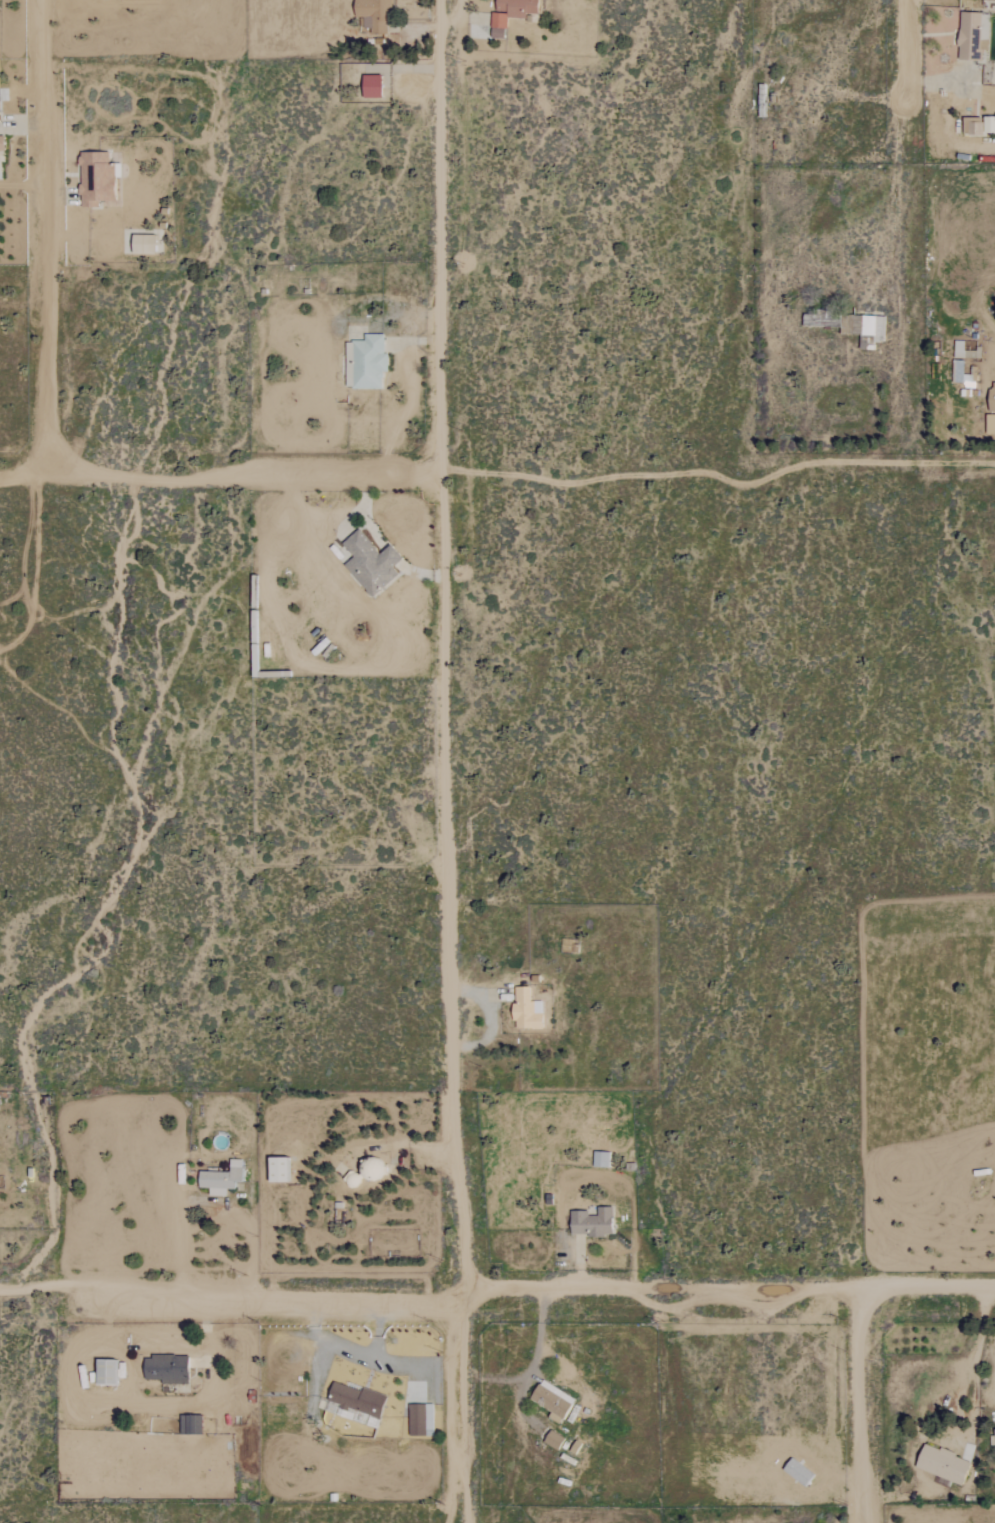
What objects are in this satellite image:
building: (520, 8)
building: (971, 36)
road: (905, 61)
building: (0, 88)
building: (981, 126)
building: (3, 139)
road: (48, 237)
building: (865, 325)
building: (957, 371)
building: (991, 397)
building: (989, 424)
road: (500, 475)
road: (364, 513)
road: (390, 554)
building: (370, 563)
road: (417, 574)
road: (446, 761)
road: (489, 1008)
building: (525, 1010)
building: (220, 1178)
road: (211, 1201)
building: (590, 1222)
road: (496, 1291)
road: (539, 1332)
road: (974, 1360)
road: (994, 1393)
building: (550, 1398)
road: (861, 1405)
building: (992, 1437)
building: (552, 1440)
building: (941, 1463)

